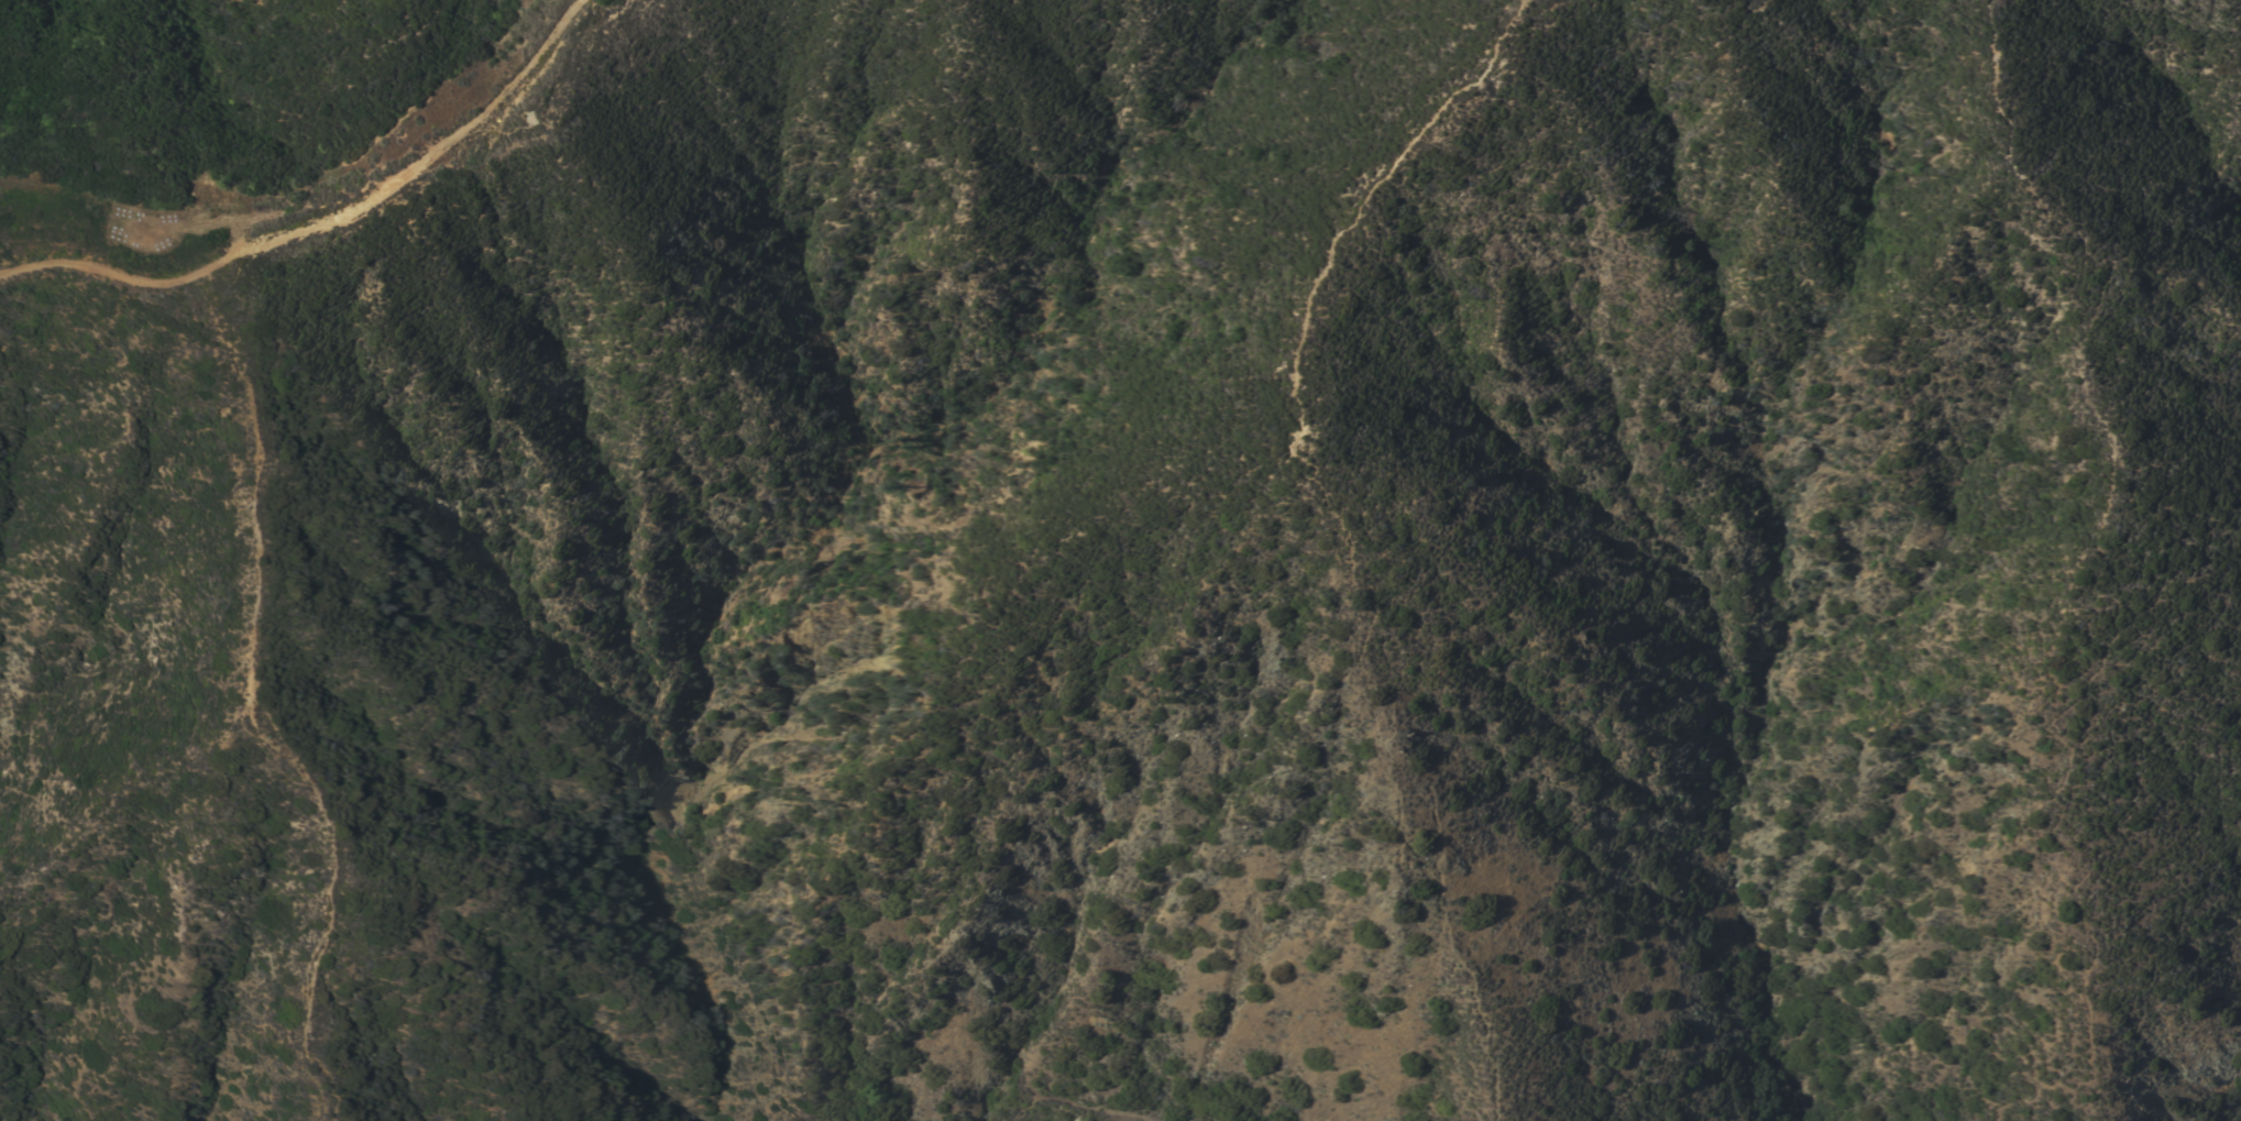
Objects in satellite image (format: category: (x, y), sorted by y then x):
road: (331, 224)
park: (1813, 659)

